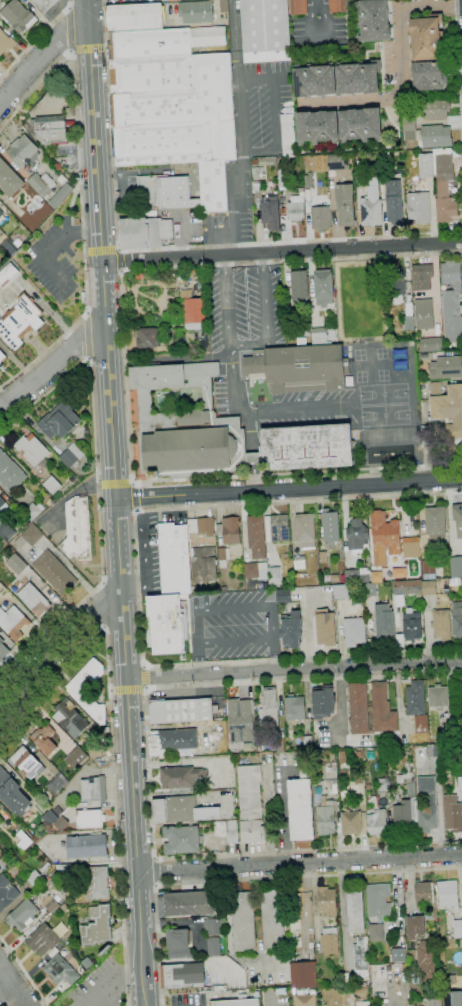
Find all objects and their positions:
building: (44, 4)
building: (223, 6)
building: (337, 6)
building: (297, 7)
building: (196, 12)
building: (17, 16)
building: (134, 18)
building: (374, 20)
road: (67, 30)
building: (265, 30)
building: (208, 37)
building: (426, 38)
road: (35, 39)
building: (6, 42)
building: (150, 44)
road: (89, 48)
road: (40, 59)
road: (458, 69)
road: (400, 72)
building: (152, 74)
building: (429, 76)
building: (358, 77)
building: (314, 80)
building: (182, 98)
building: (435, 109)
road: (275, 115)
building: (360, 125)
building: (317, 127)
building: (409, 127)
building: (52, 128)
road: (76, 128)
road: (240, 131)
building: (288, 135)
building: (436, 136)
building: (174, 143)
building: (22, 151)
building: (237, 155)
building: (270, 161)
building: (337, 161)
building: (254, 162)
building: (426, 166)
building: (256, 173)
building: (9, 180)
building: (308, 180)
building: (359, 180)
building: (443, 184)
building: (41, 185)
building: (212, 186)
building: (256, 187)
building: (165, 193)
building: (60, 195)
building: (282, 200)
building: (393, 202)
building: (344, 205)
building: (371, 205)
building: (296, 207)
building: (419, 208)
building: (282, 212)
building: (1, 213)
building: (270, 213)
building: (320, 218)
building: (33, 221)
building: (144, 232)
building: (9, 246)
road: (165, 247)
road: (101, 251)
road: (282, 252)
road: (119, 261)
building: (7, 271)
building: (422, 277)
building: (397, 283)
building: (298, 287)
building: (323, 287)
road: (227, 301)
building: (451, 304)
building: (195, 314)
building: (424, 314)
road: (266, 317)
building: (19, 321)
building: (408, 323)
building: (296, 332)
road: (87, 335)
building: (318, 336)
building: (147, 338)
building: (430, 345)
road: (45, 351)
building: (2, 356)
building: (401, 361)
road: (52, 365)
building: (298, 368)
building: (446, 368)
road: (125, 372)
park: (383, 395)
building: (144, 399)
road: (238, 402)
road: (301, 410)
park: (384, 415)
building: (446, 417)
building: (58, 421)
building: (305, 448)
building: (31, 449)
building: (196, 450)
building: (71, 455)
road: (253, 458)
building: (10, 472)
road: (254, 476)
building: (51, 484)
road: (114, 484)
road: (288, 488)
road: (98, 489)
road: (136, 498)
building: (2, 502)
road: (116, 502)
building: (31, 512)
building: (457, 519)
building: (330, 527)
building: (279, 528)
building: (437, 529)
building: (77, 530)
building: (229, 530)
building: (305, 530)
building: (6, 531)
building: (357, 535)
building: (29, 536)
building: (256, 536)
building: (383, 537)
building: (411, 547)
building: (202, 550)
road: (141, 553)
building: (223, 557)
building: (323, 557)
building: (174, 559)
building: (15, 563)
building: (299, 563)
building: (456, 567)
building: (254, 569)
building: (428, 570)
building: (398, 572)
building: (54, 573)
building: (274, 576)
building: (355, 577)
building: (376, 577)
building: (335, 578)
building: (455, 582)
road: (103, 583)
road: (139, 584)
building: (407, 587)
building: (428, 588)
building: (369, 590)
building: (342, 592)
building: (283, 596)
building: (33, 599)
road: (104, 605)
road: (234, 608)
building: (457, 619)
building: (13, 623)
building: (384, 623)
building: (167, 624)
building: (441, 624)
building: (412, 625)
road: (103, 627)
building: (291, 629)
building: (326, 629)
building: (354, 631)
road: (273, 638)
road: (236, 641)
road: (197, 642)
building: (3, 651)
road: (57, 653)
road: (144, 666)
road: (294, 669)
road: (144, 676)
building: (461, 685)
road: (146, 687)
road: (129, 689)
road: (111, 690)
building: (438, 697)
building: (82, 698)
building: (415, 698)
building: (323, 701)
building: (294, 708)
building: (358, 709)
building: (268, 710)
building: (382, 710)
building: (182, 711)
building: (69, 719)
building: (239, 722)
building: (421, 723)
building: (448, 731)
building: (44, 739)
road: (112, 739)
building: (171, 741)
building: (307, 742)
building: (278, 744)
building: (433, 750)
building: (77, 755)
building: (342, 757)
building: (315, 759)
building: (26, 763)
road: (149, 769)
building: (69, 770)
building: (331, 771)
building: (180, 777)
building: (404, 778)
building: (8, 783)
building: (57, 784)
building: (383, 784)
building: (367, 787)
building: (93, 790)
building: (250, 804)
building: (427, 805)
building: (182, 810)
building: (300, 810)
building: (405, 811)
building: (323, 812)
building: (452, 814)
building: (49, 818)
building: (89, 819)
building: (350, 822)
building: (376, 822)
building: (61, 824)
building: (227, 830)
building: (26, 839)
building: (182, 840)
building: (86, 846)
road: (299, 864)
building: (45, 868)
building: (34, 879)
road: (248, 879)
building: (90, 880)
building: (422, 893)
building: (6, 894)
building: (447, 894)
building: (378, 900)
building: (326, 901)
building: (49, 904)
building: (186, 904)
building: (355, 910)
building: (21, 915)
building: (60, 915)
building: (242, 922)
building: (272, 922)
building: (97, 926)
building: (213, 926)
building: (415, 927)
building: (457, 929)
building: (376, 932)
building: (43, 940)
building: (329, 941)
building: (178, 943)
building: (213, 947)
building: (398, 955)
building: (360, 957)
building: (428, 960)
building: (86, 963)
building: (60, 970)
road: (24, 972)
building: (183, 975)
building: (303, 975)
road: (111, 987)
road: (7, 994)
building: (453, 998)
building: (305, 999)
road: (269, 1002)
building: (434, 1002)
building: (236, 1003)
building: (363, 1004)

